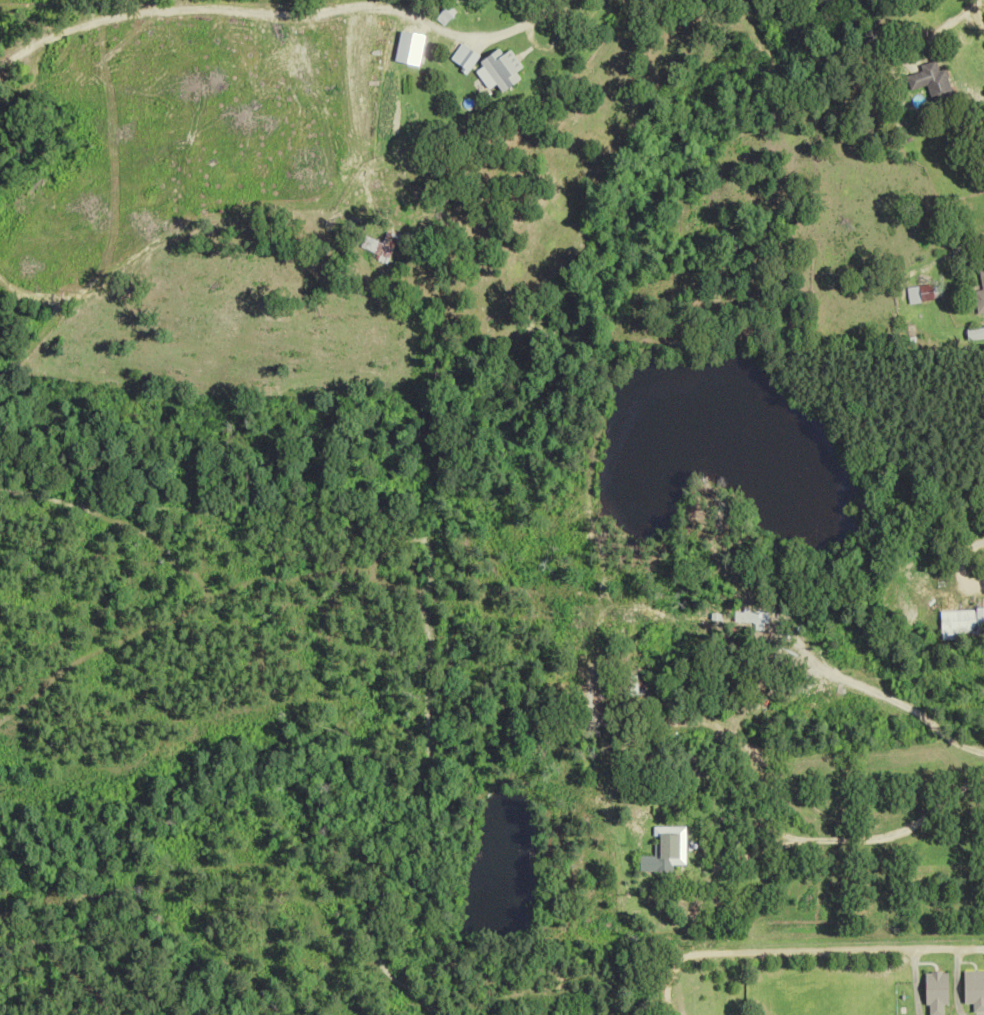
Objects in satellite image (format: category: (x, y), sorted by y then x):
road: (978, 13)
road: (444, 31)
road: (939, 31)
building: (506, 70)
building: (934, 82)
building: (368, 244)
building: (920, 293)
building: (979, 294)
building: (975, 333)
building: (960, 622)
building: (627, 685)
building: (664, 850)
road: (800, 947)
building: (974, 990)
building: (938, 994)

